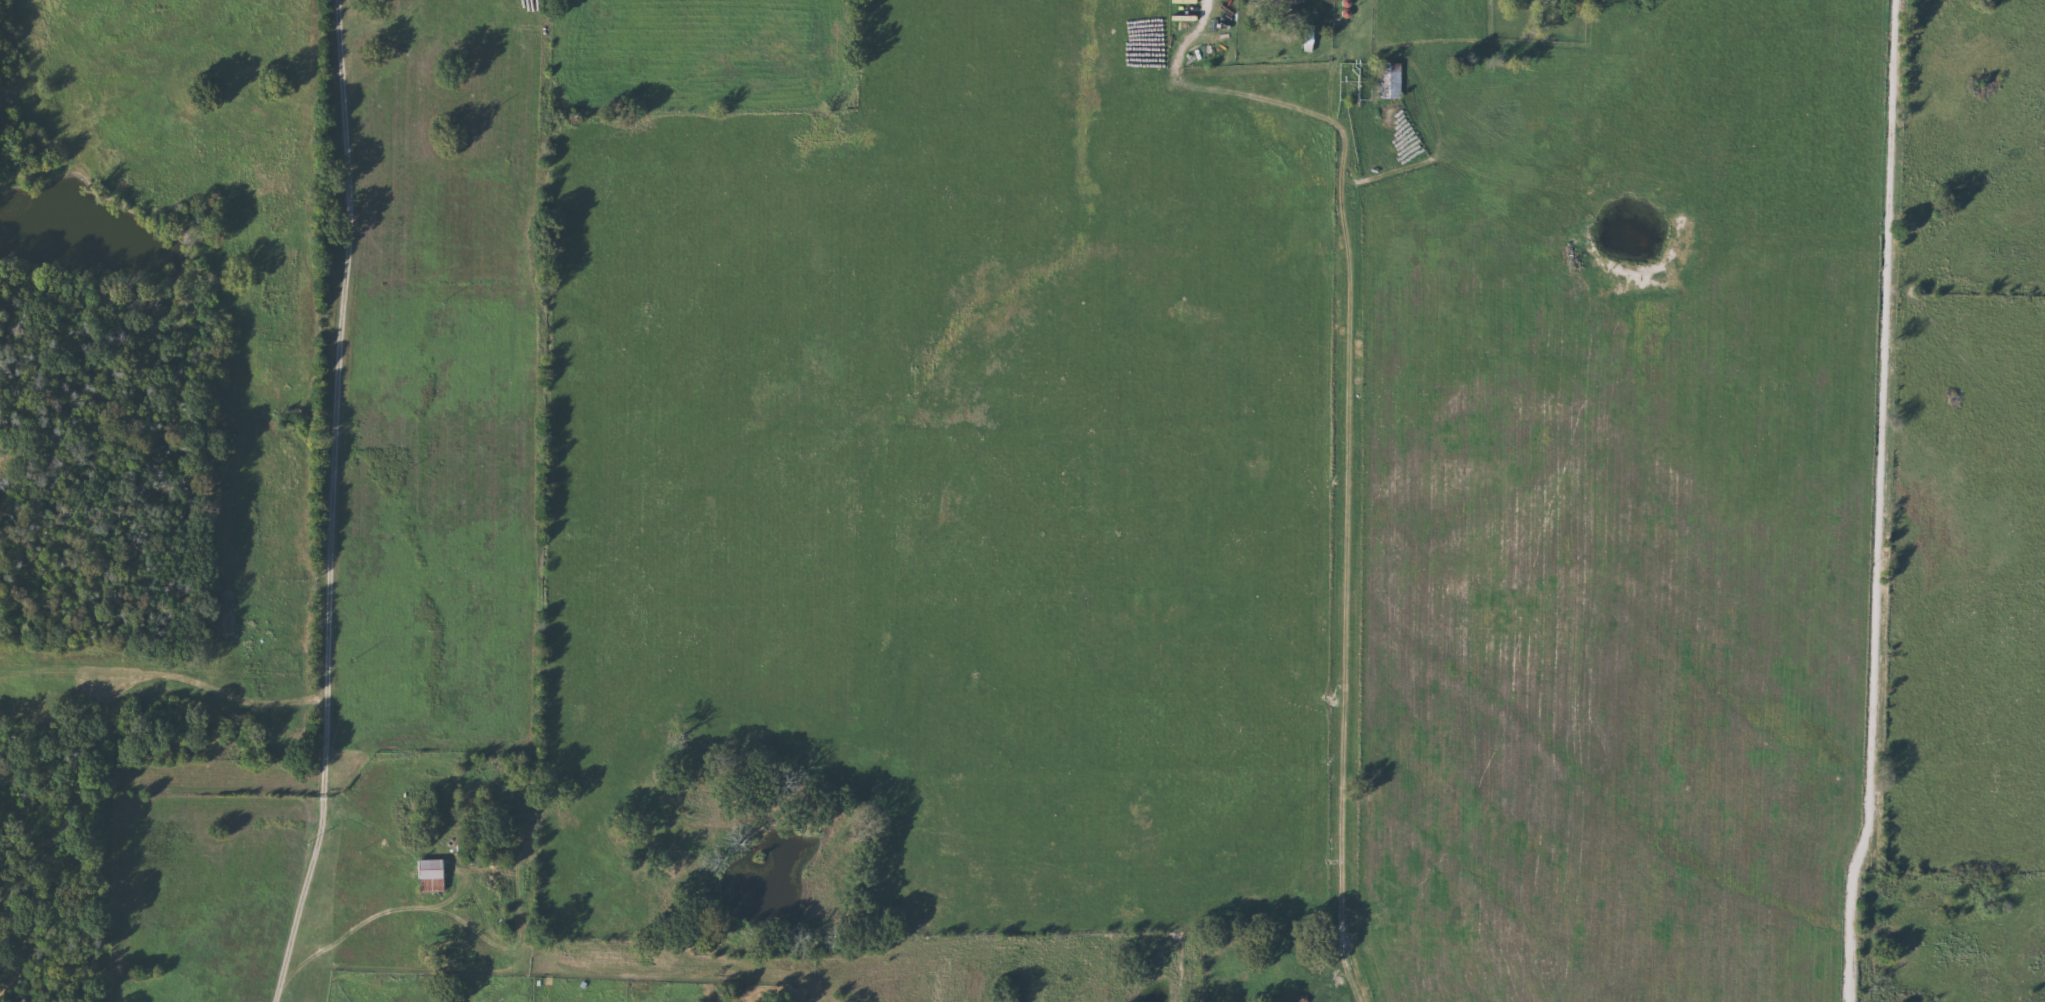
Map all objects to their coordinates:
building: (1394, 82)
road: (336, 432)
road: (1349, 494)
building: (433, 869)
road: (293, 933)

